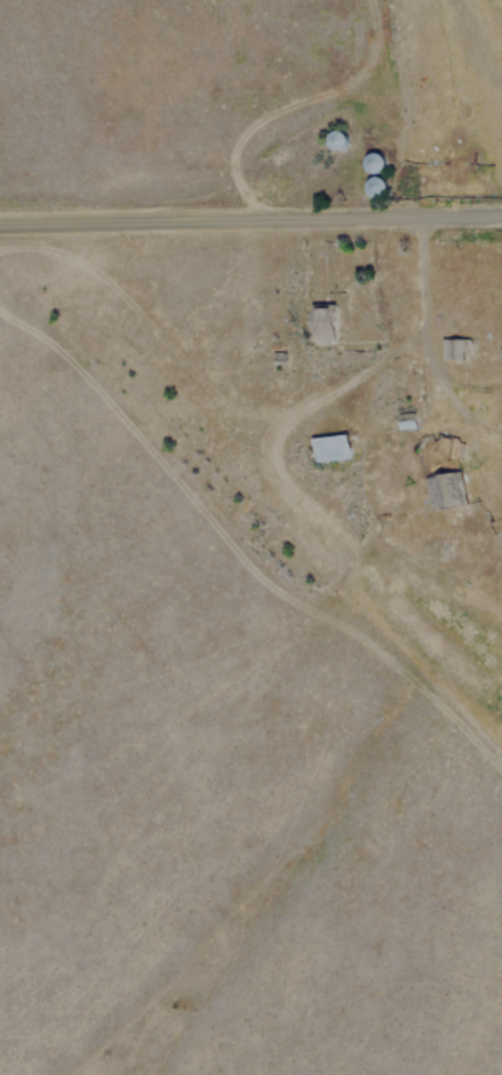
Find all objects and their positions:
building: (342, 141)
silo: (342, 141)
building: (381, 164)
silo: (381, 164)
building: (381, 190)
silo: (381, 190)
road: (250, 218)
road: (420, 282)
building: (331, 325)
building: (452, 351)
building: (336, 449)
building: (441, 494)

